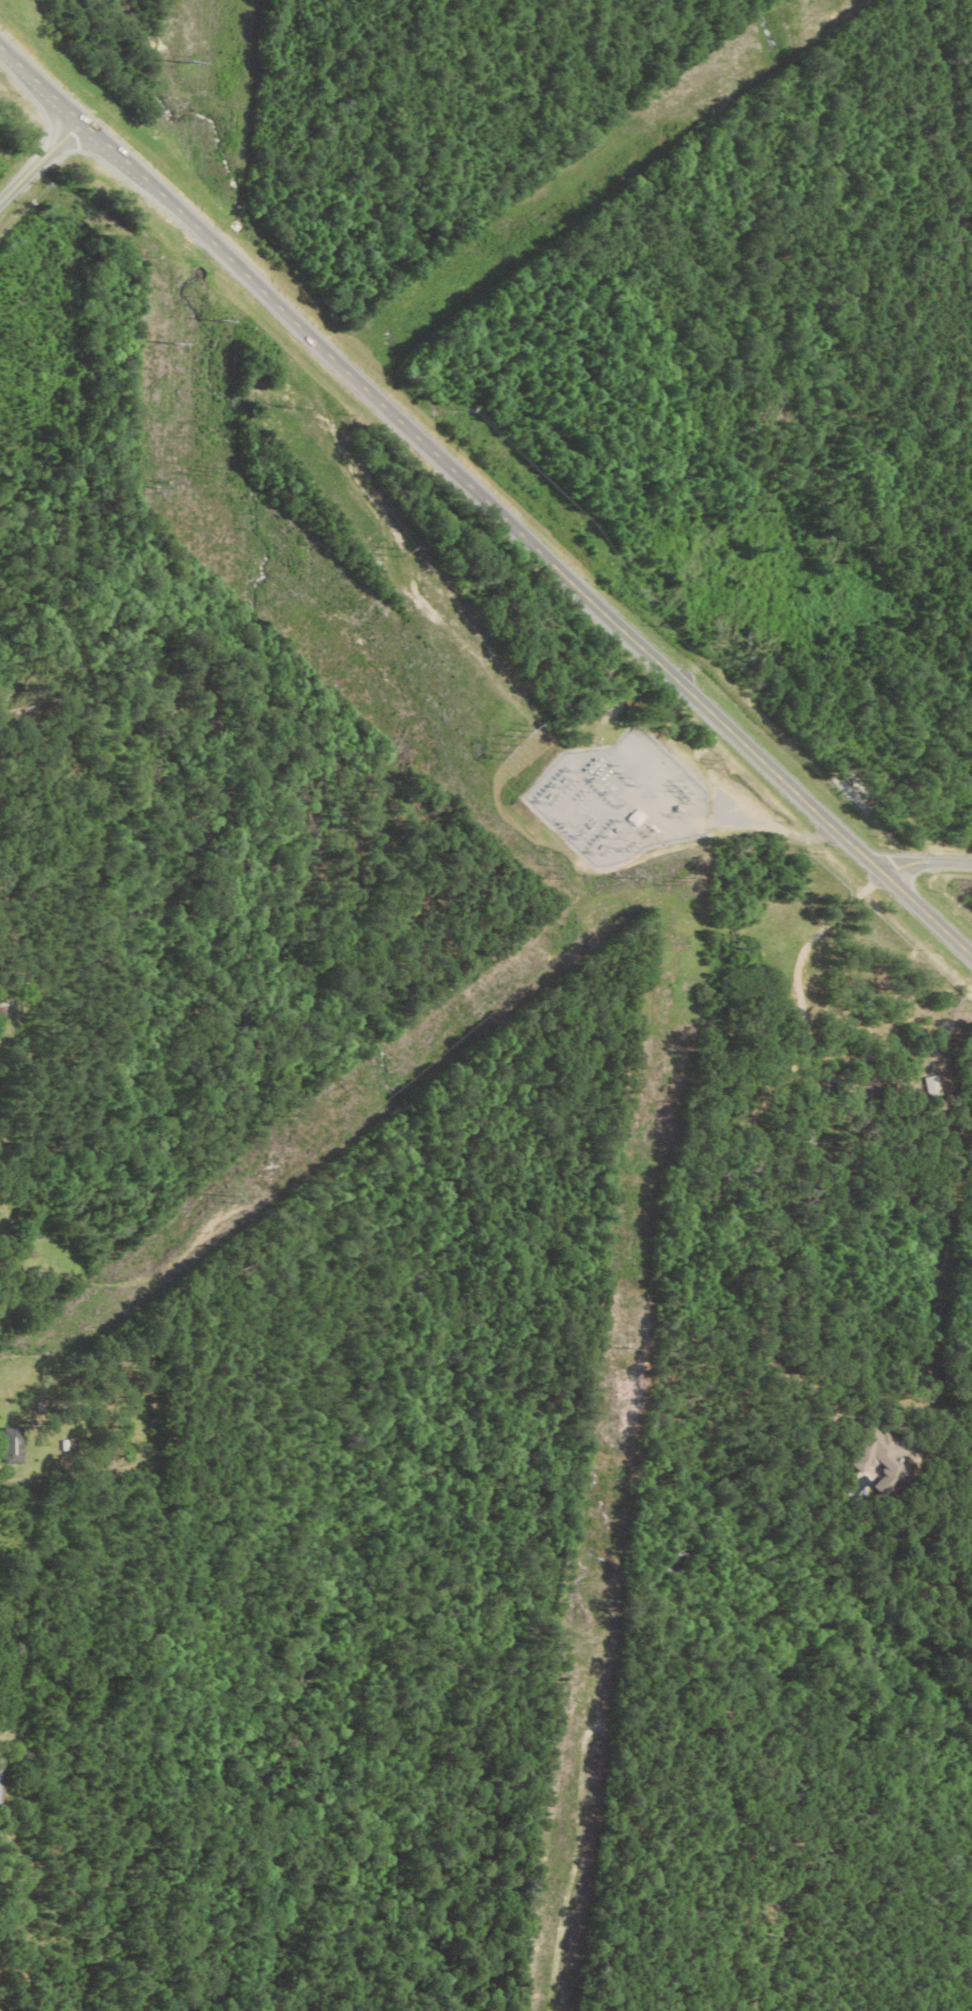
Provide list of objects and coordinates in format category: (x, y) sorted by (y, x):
road: (36, 160)
road: (483, 506)
road: (23, 730)
power substation: (615, 798)
building: (634, 817)
road: (926, 862)
building: (12, 1445)
building: (871, 1455)

